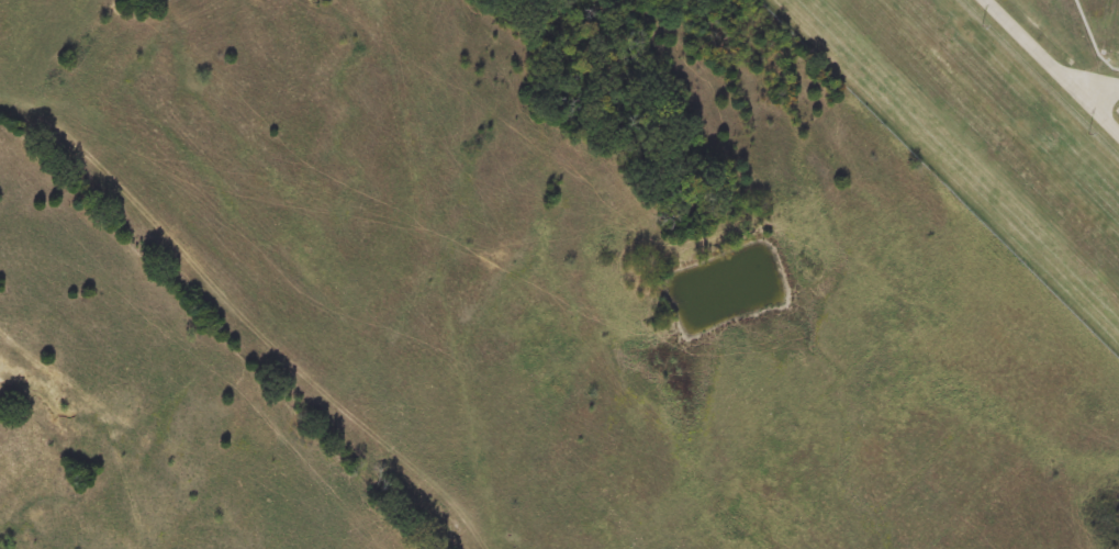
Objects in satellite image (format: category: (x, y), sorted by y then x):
road: (1055, 61)

